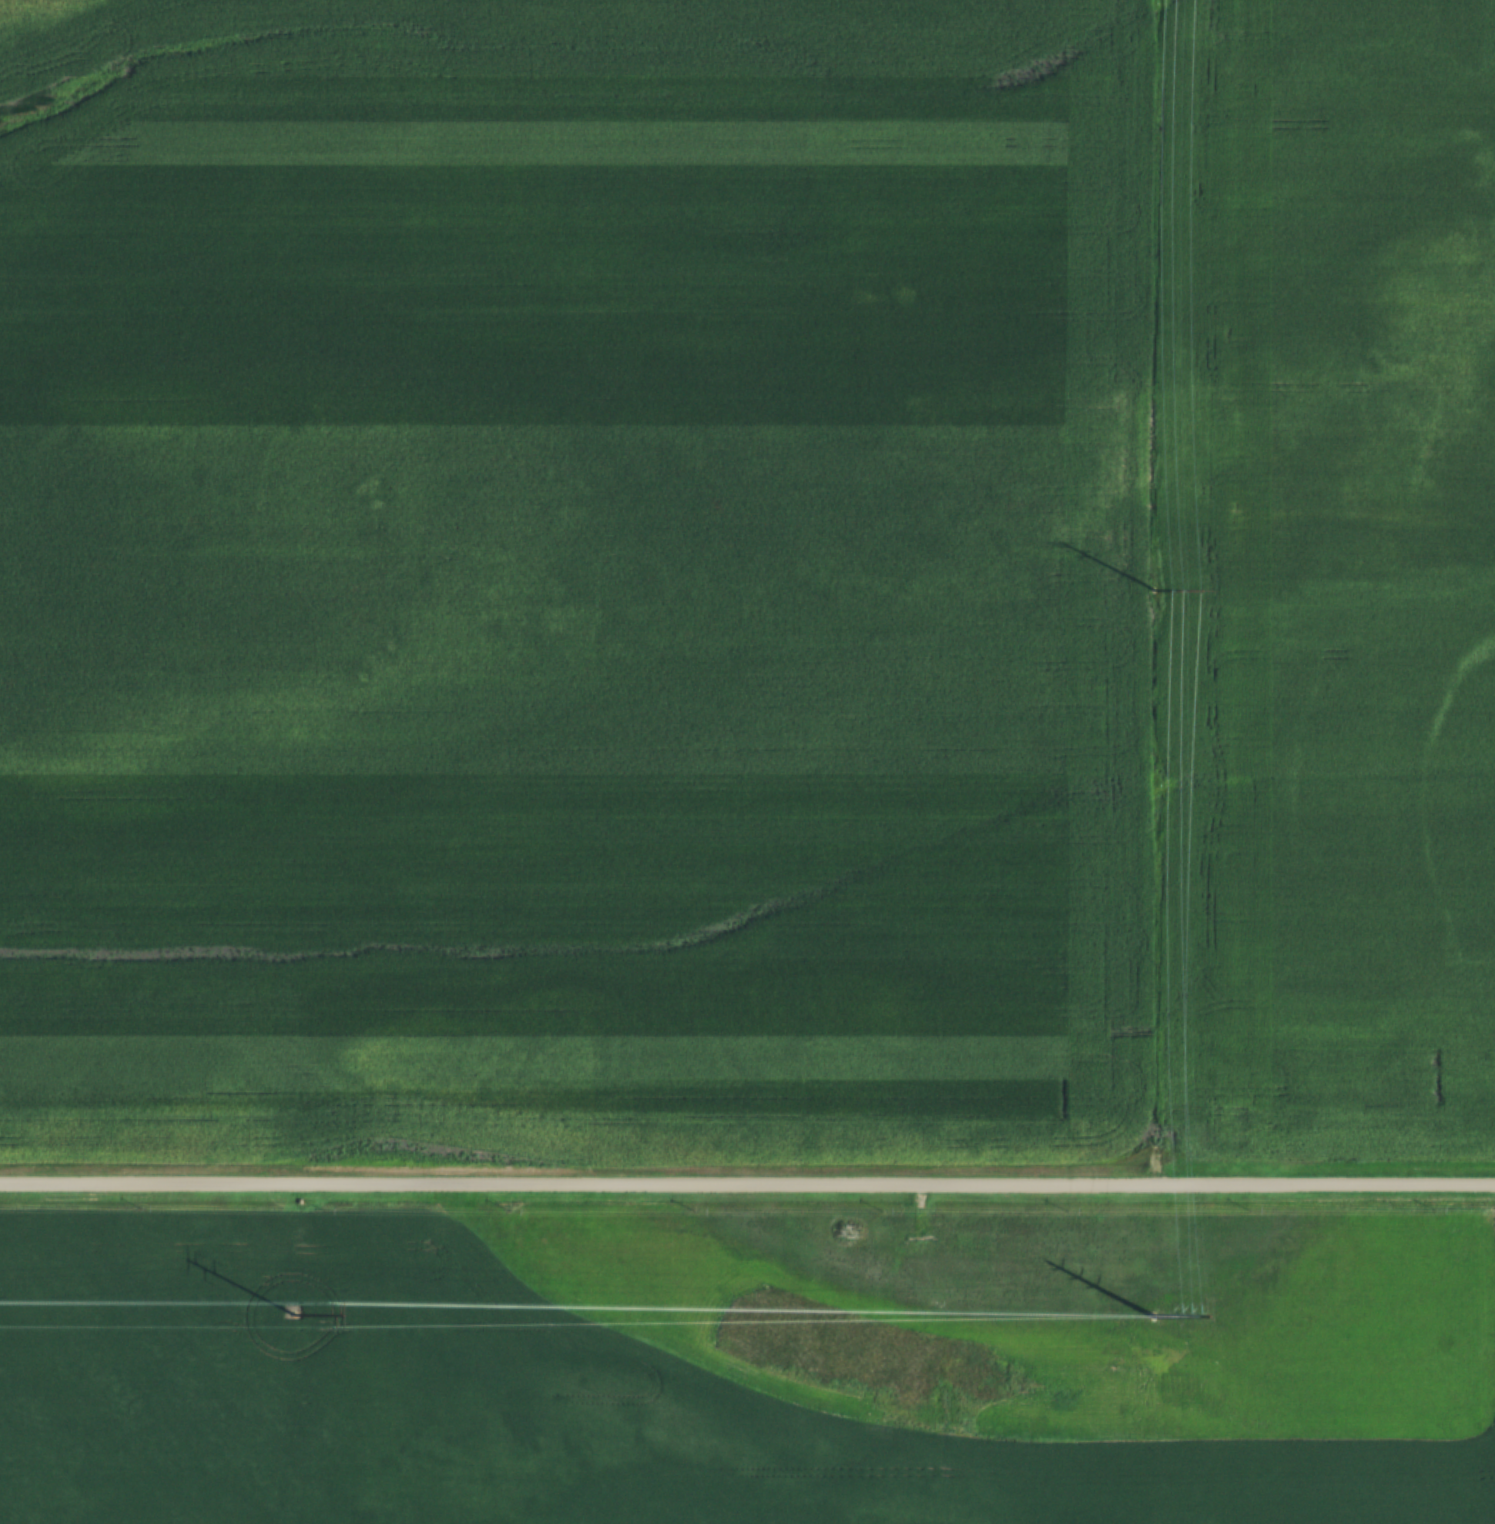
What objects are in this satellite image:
power tower: (1150, 583)
road: (747, 1183)
power tower: (293, 1308)
power tower: (1158, 1317)

